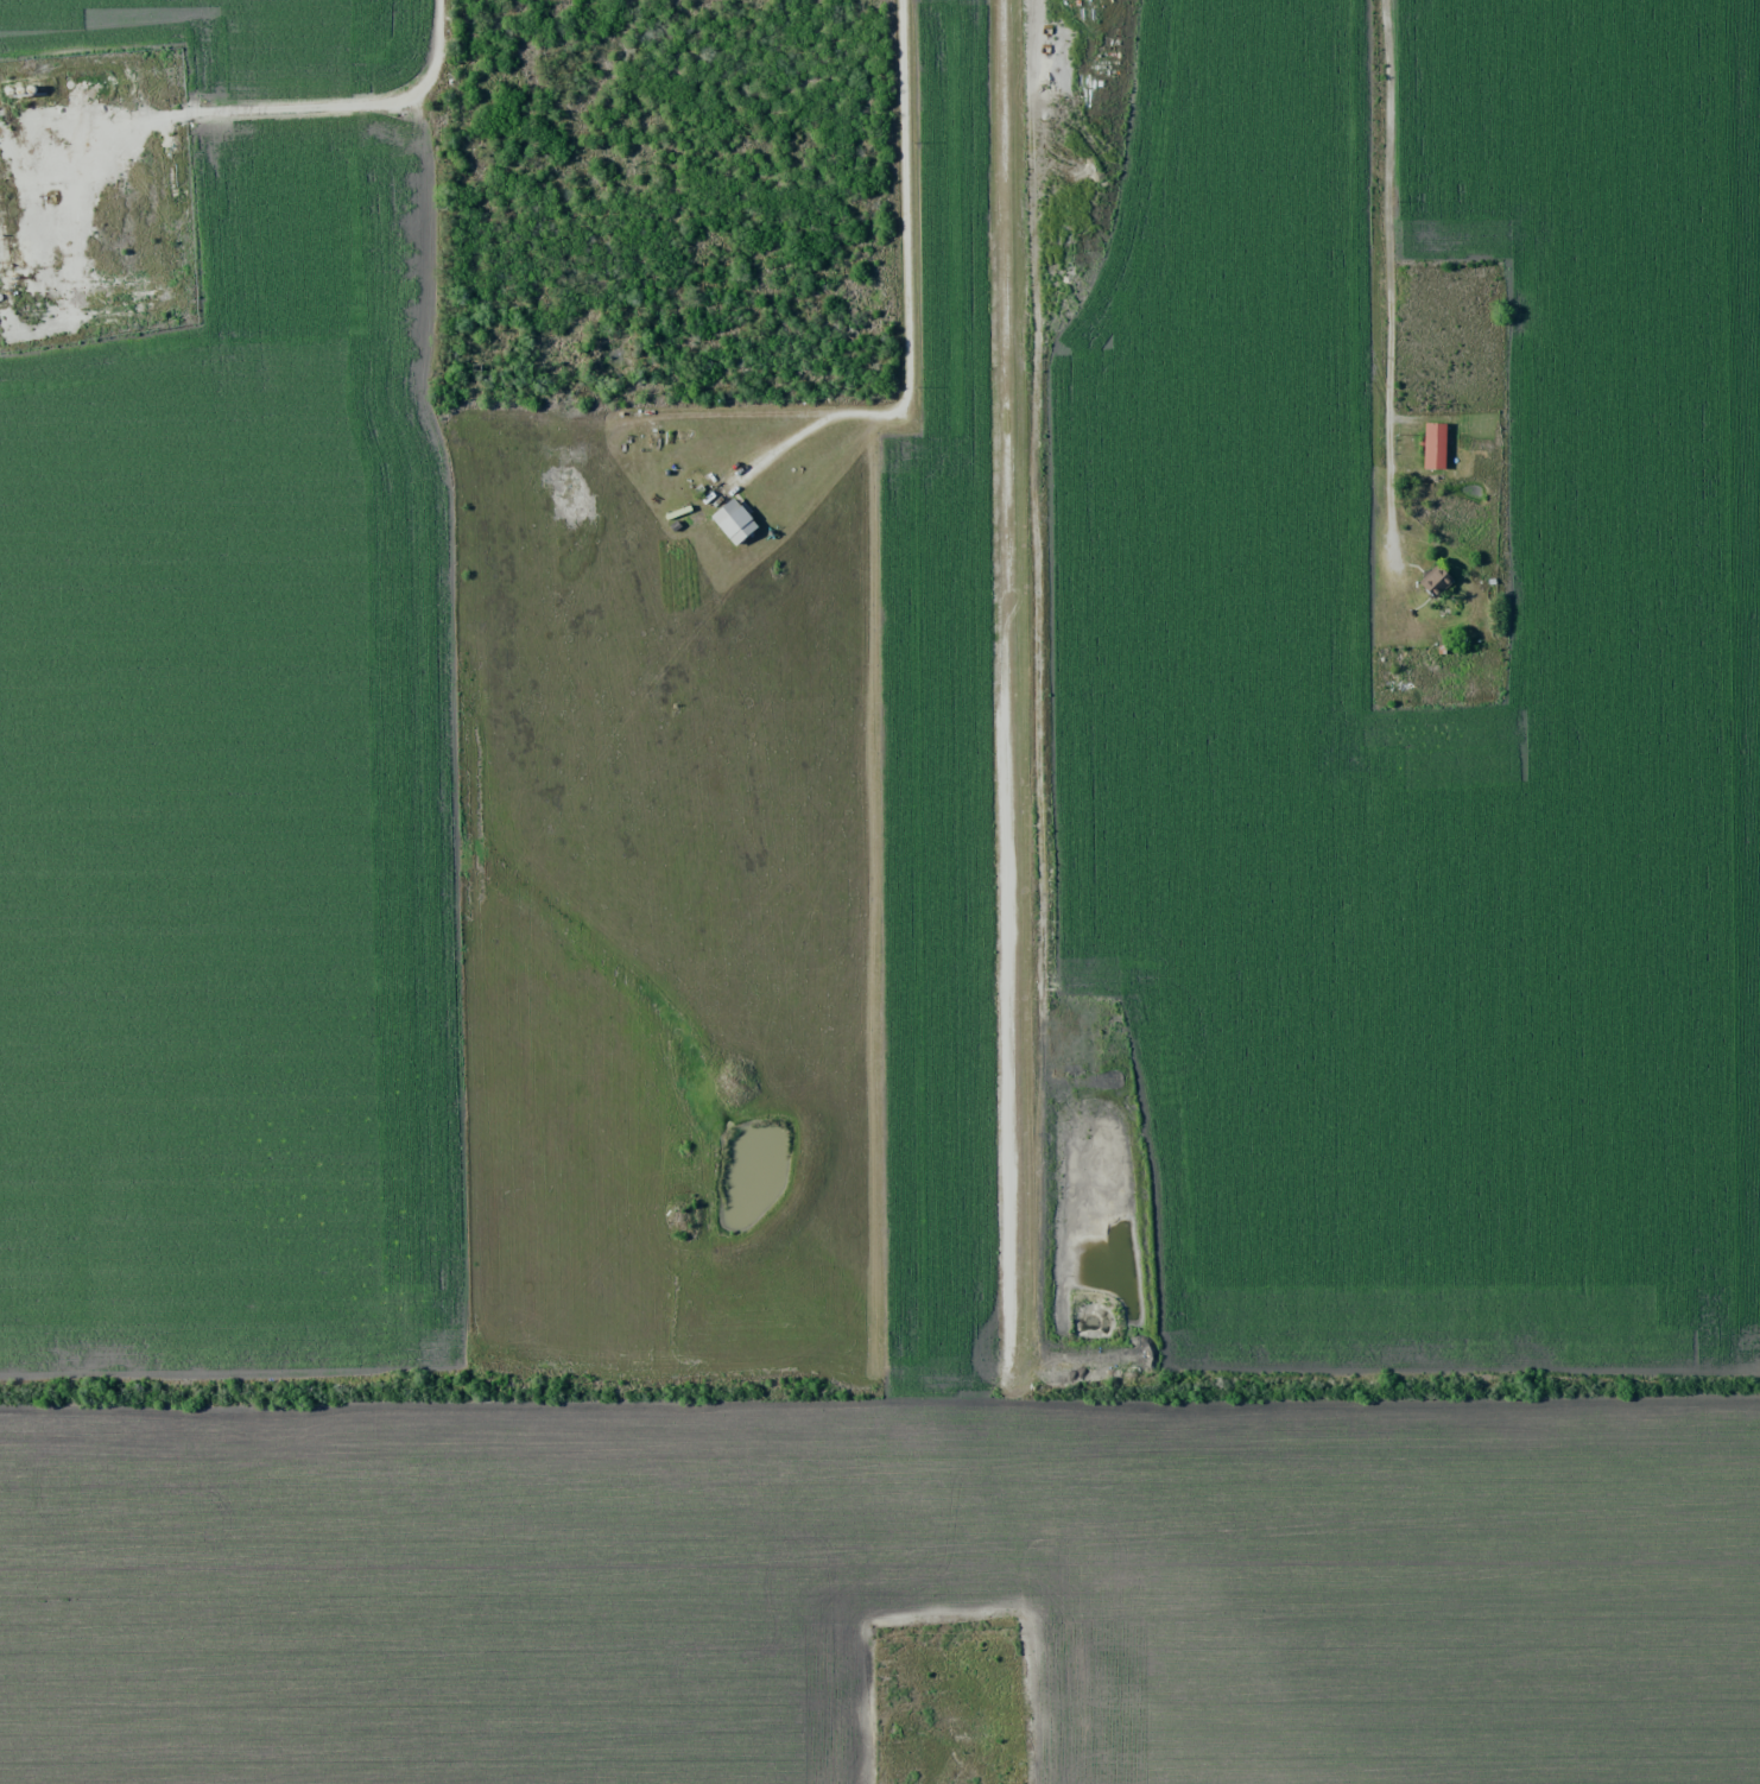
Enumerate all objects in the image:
road: (267, 108)
road: (906, 304)
building: (1433, 447)
building: (733, 521)
building: (1435, 586)

